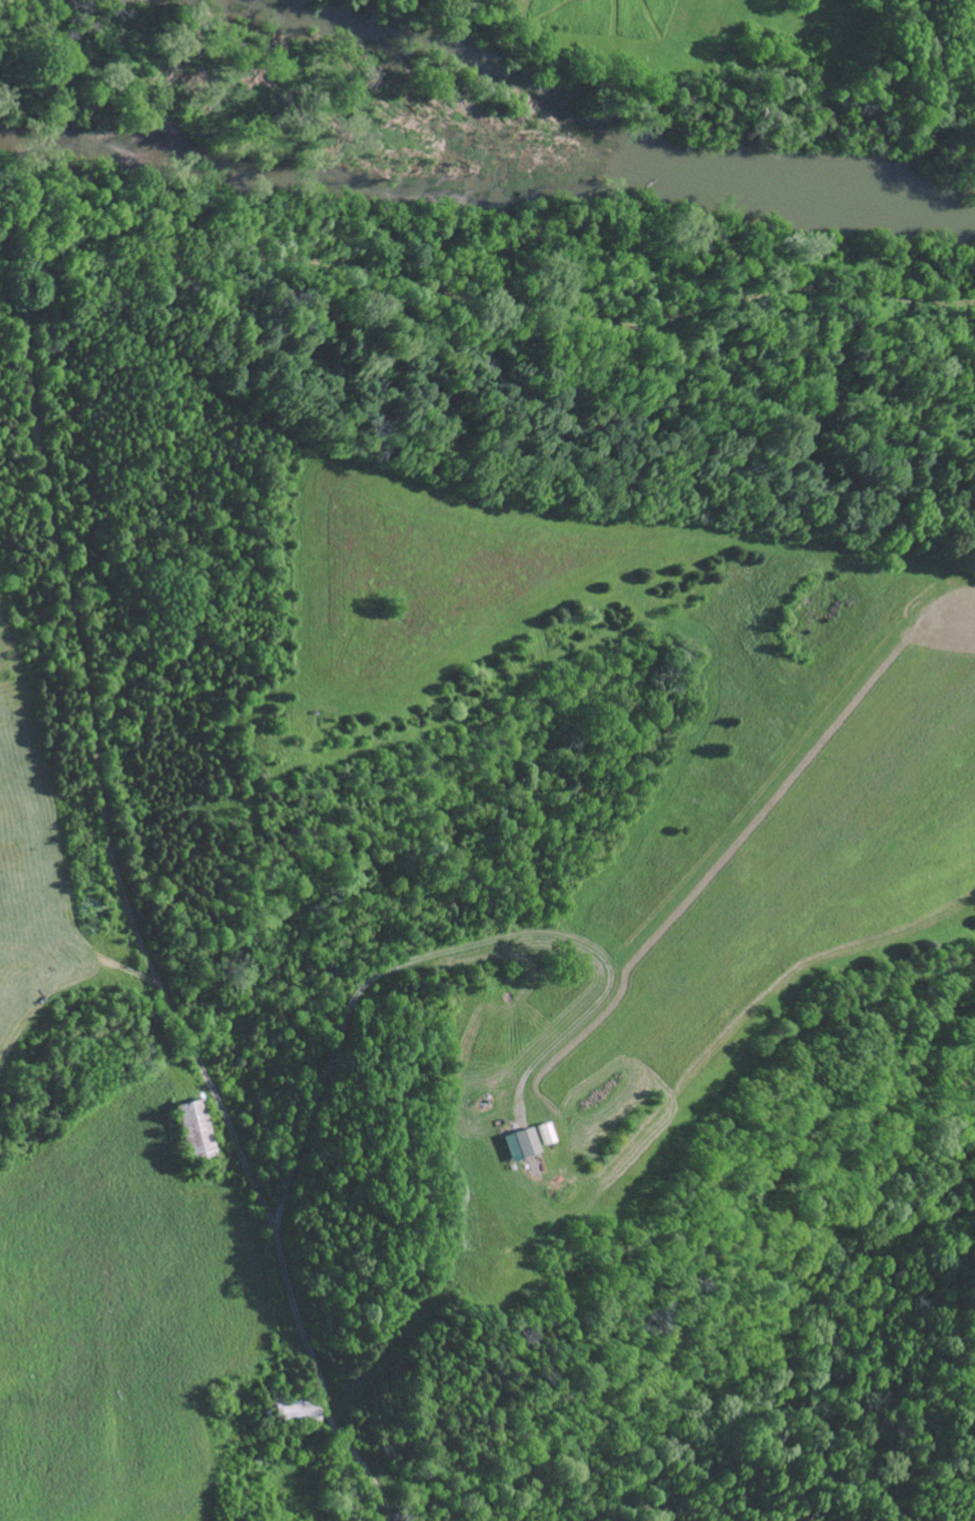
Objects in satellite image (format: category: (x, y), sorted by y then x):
river: (619, 145)
road: (219, 238)
road: (435, 954)
road: (359, 1106)
building: (193, 1131)
building: (545, 1135)
building: (526, 1143)
building: (510, 1146)
road: (259, 1195)

